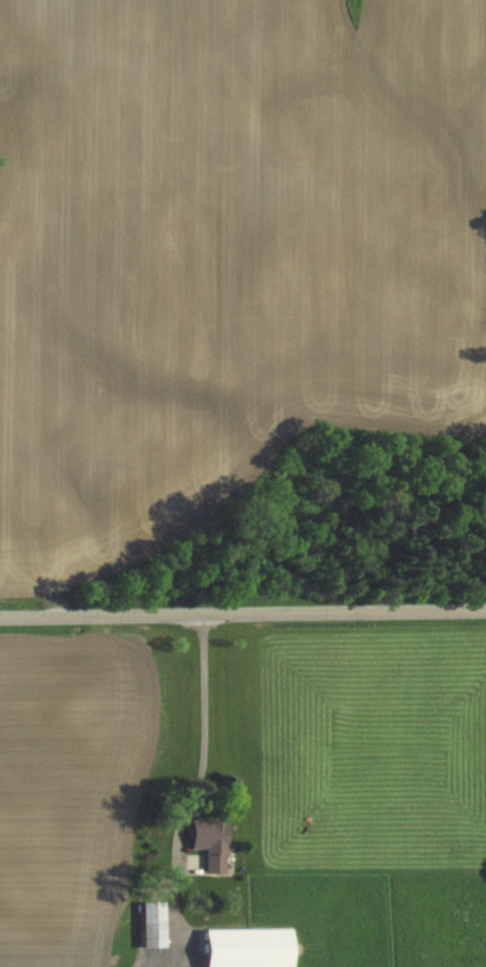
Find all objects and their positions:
road: (242, 612)
road: (203, 734)
building: (209, 846)
building: (154, 922)
building: (248, 947)

